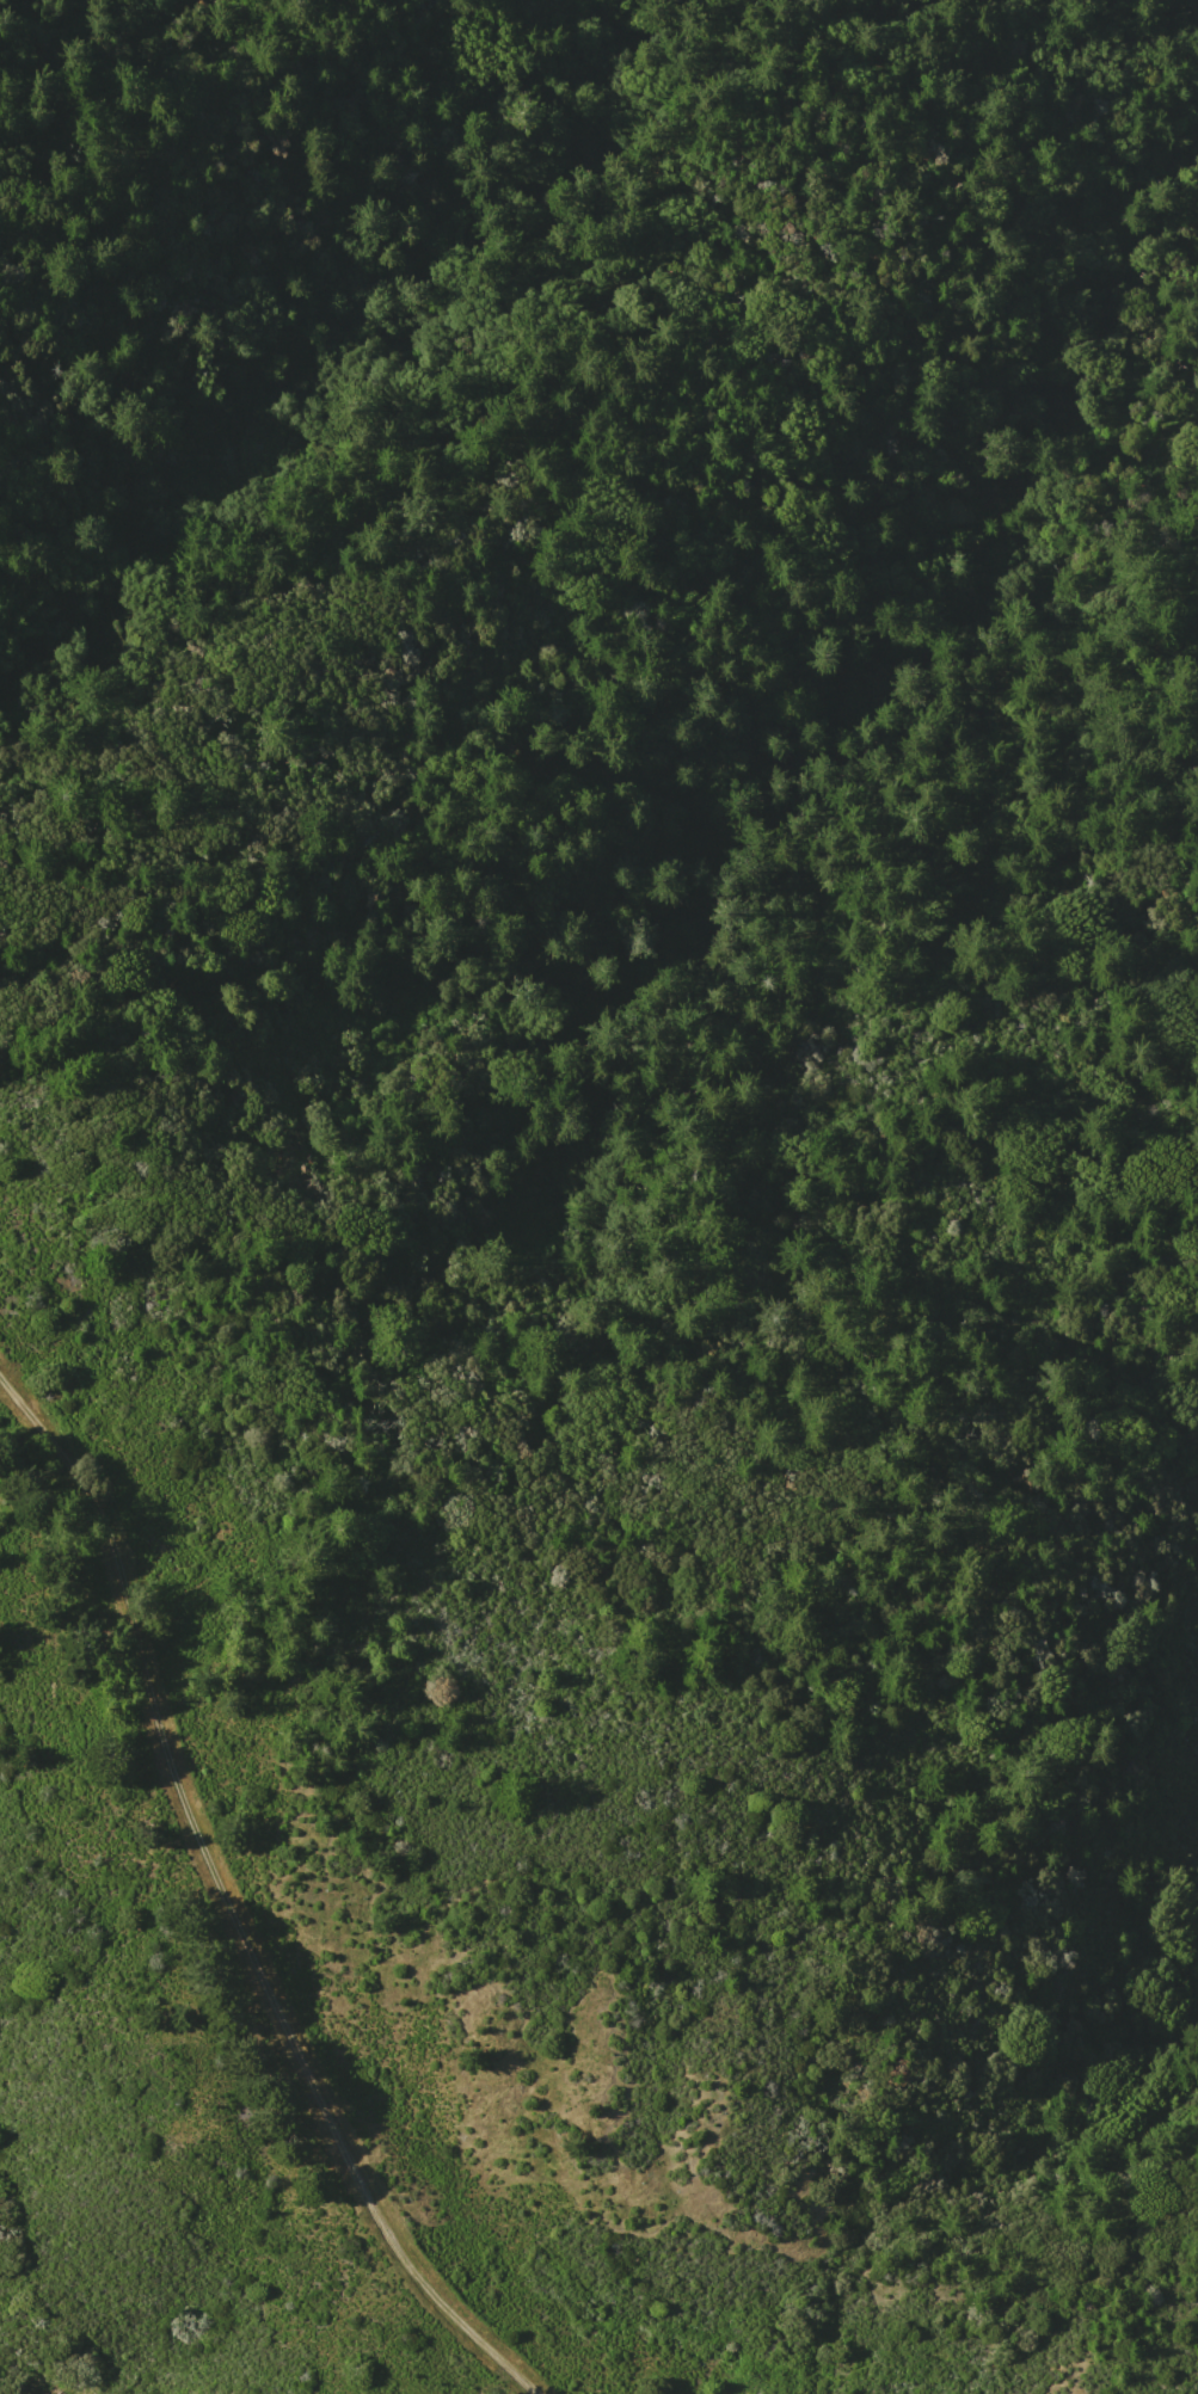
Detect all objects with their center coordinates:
road: (235, 1903)

